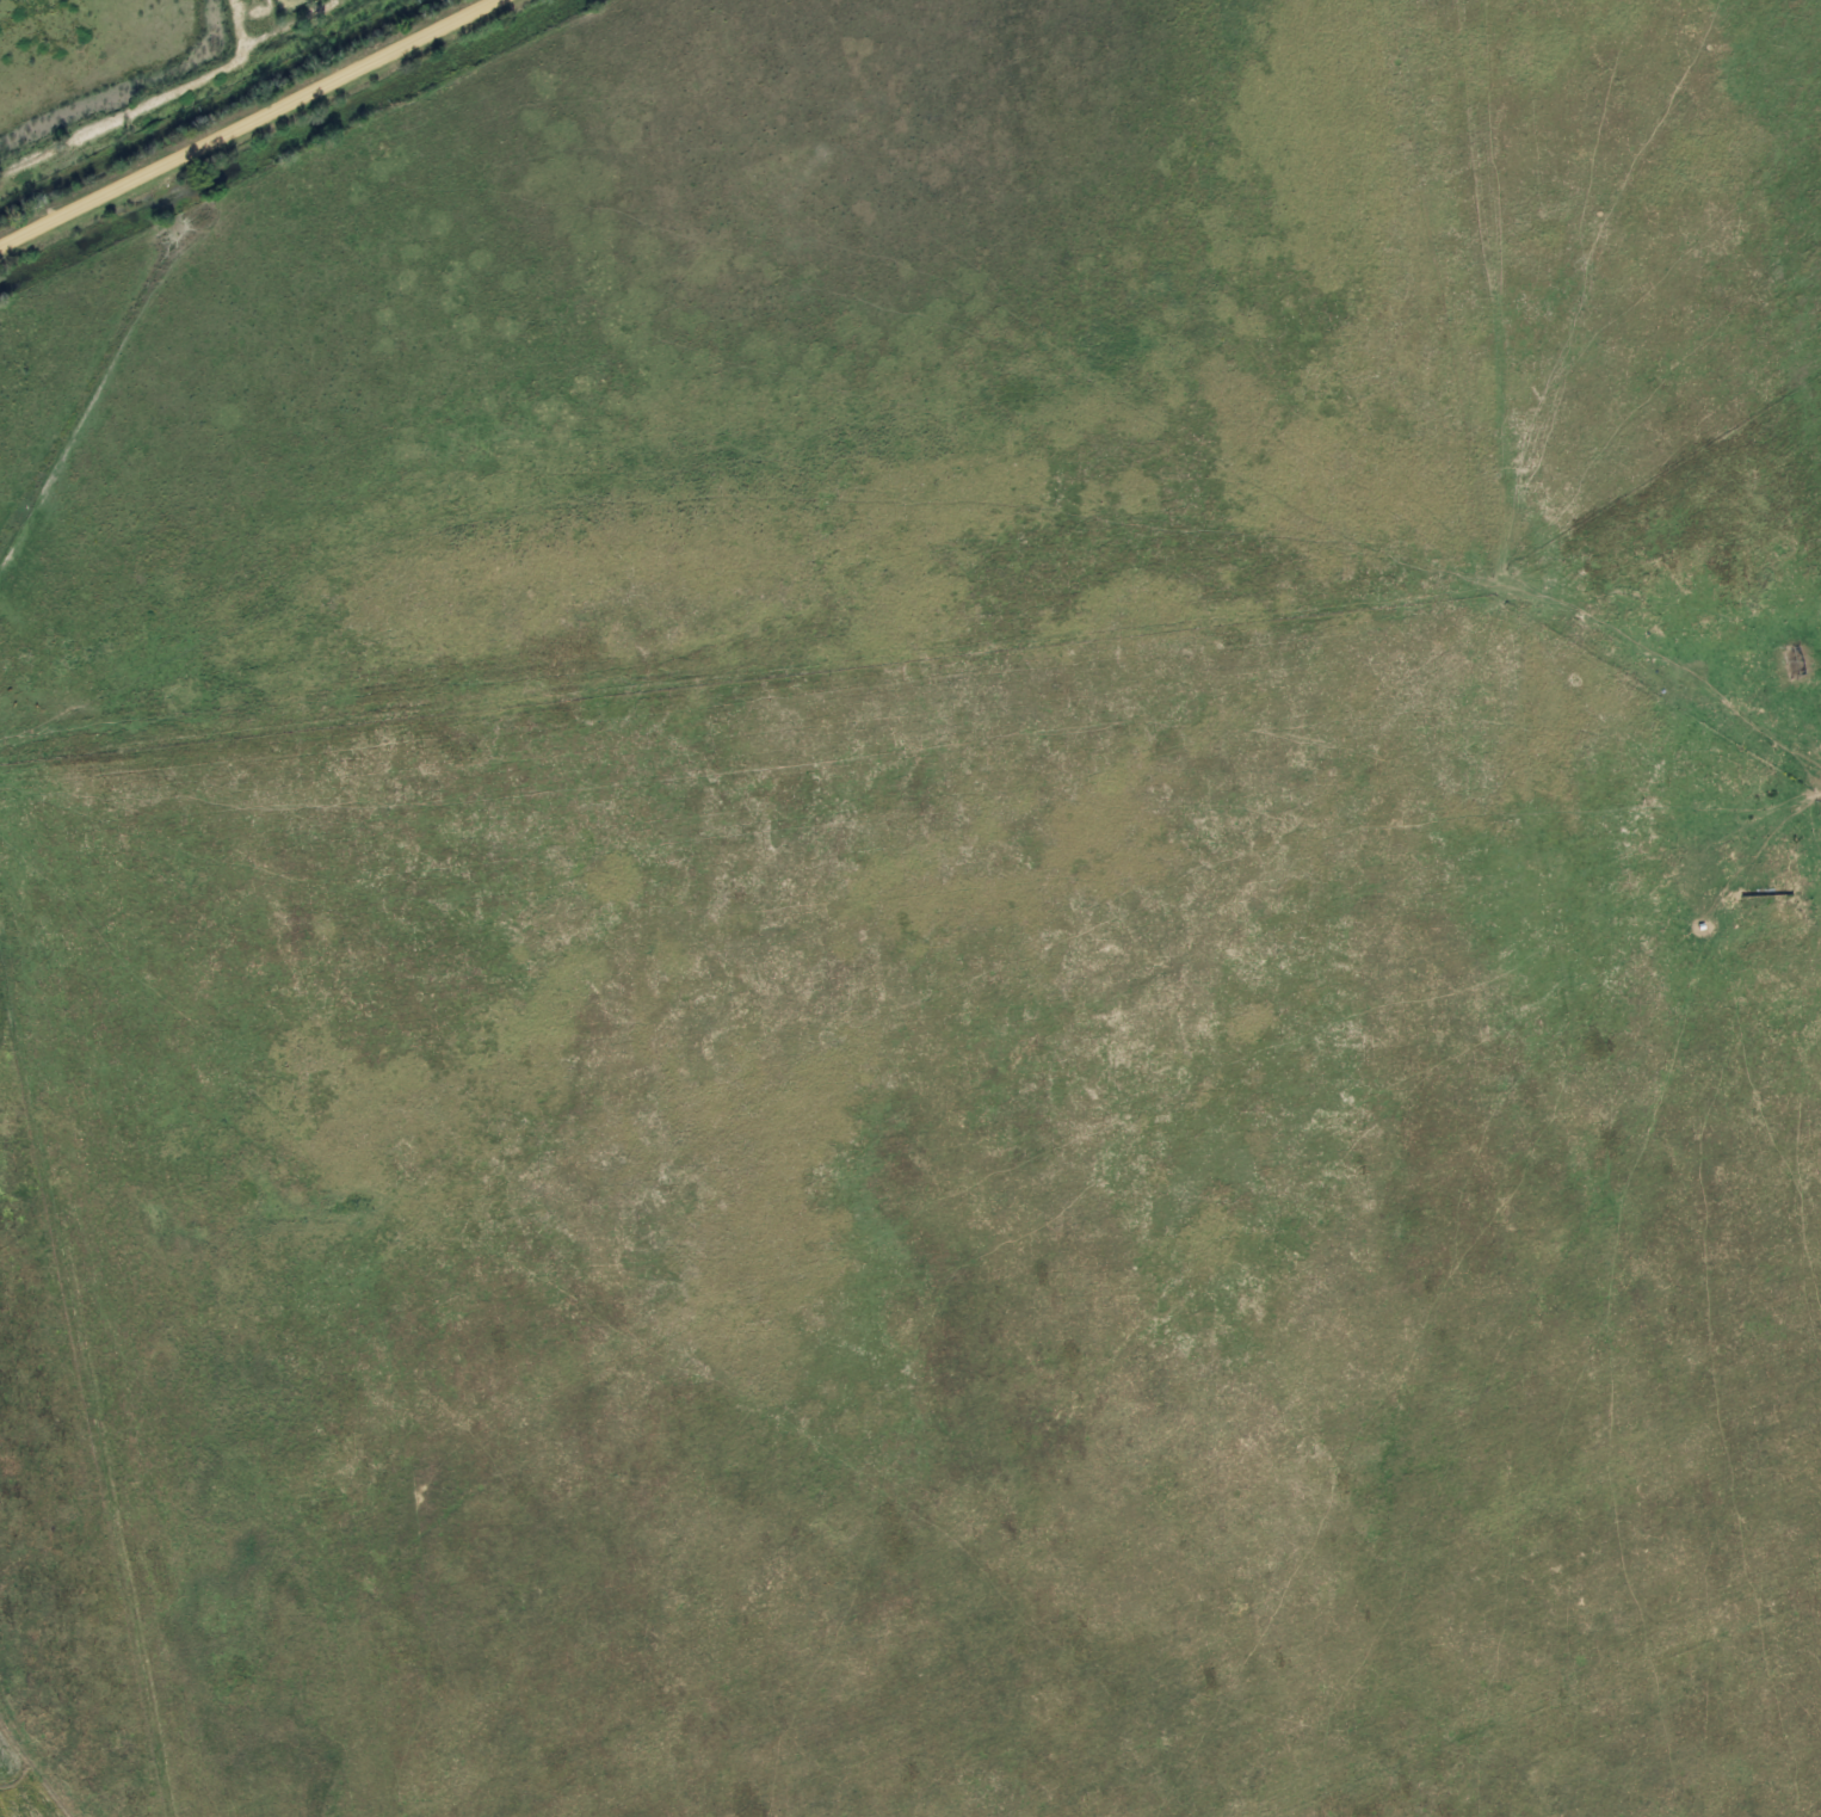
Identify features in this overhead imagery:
road: (243, 121)

